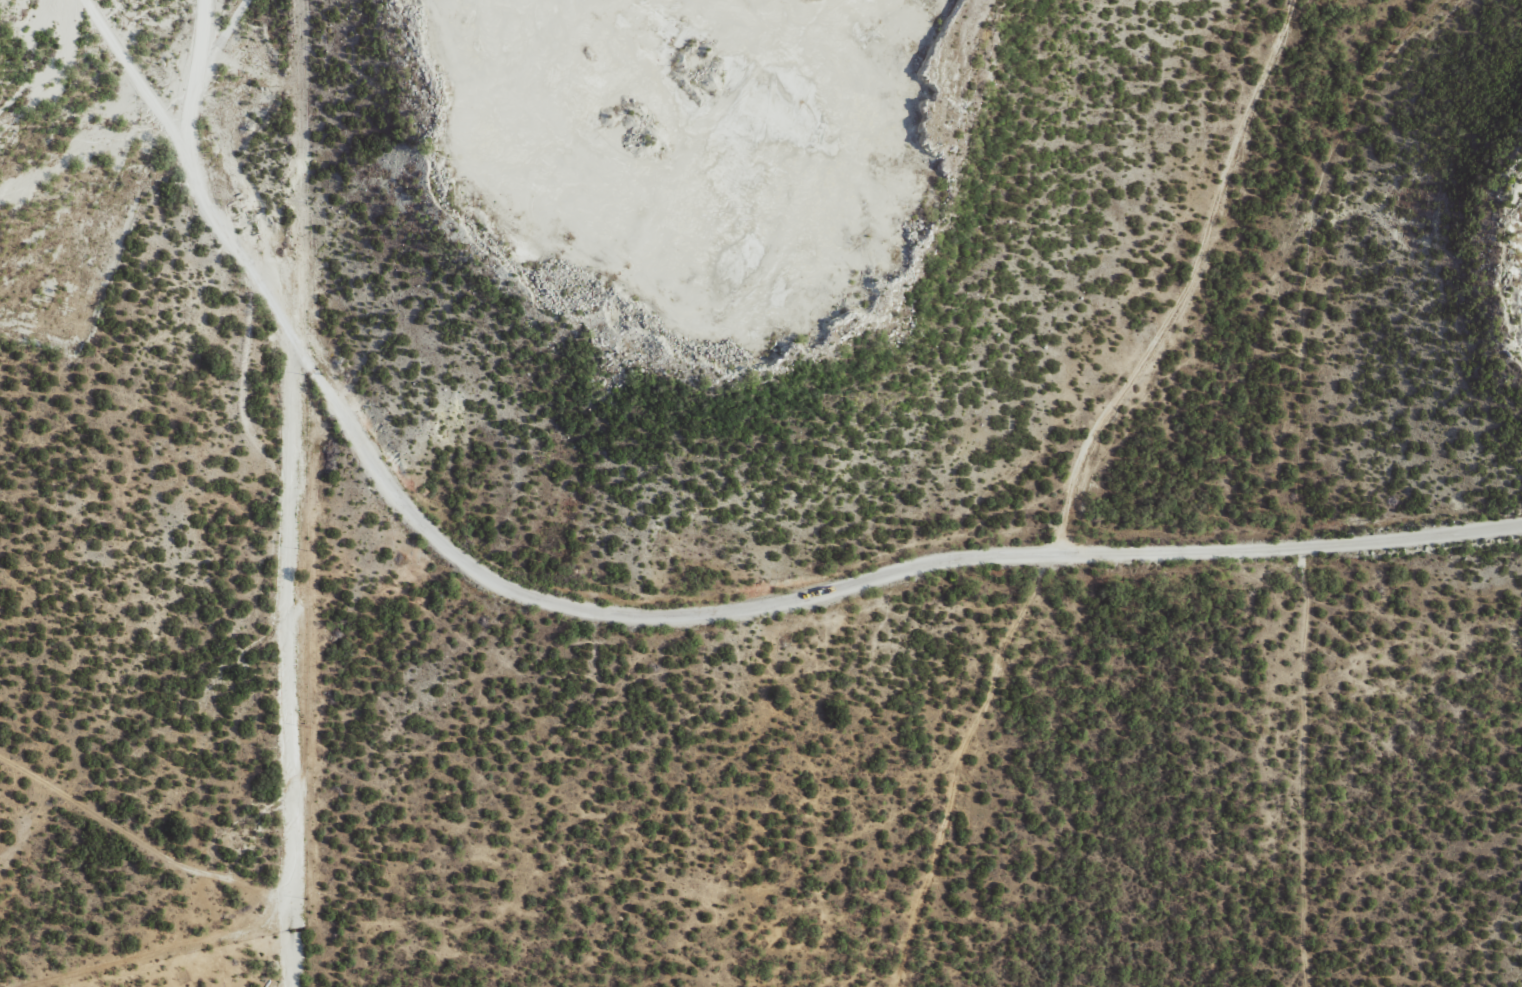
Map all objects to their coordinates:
road: (1087, 480)
road: (874, 574)

